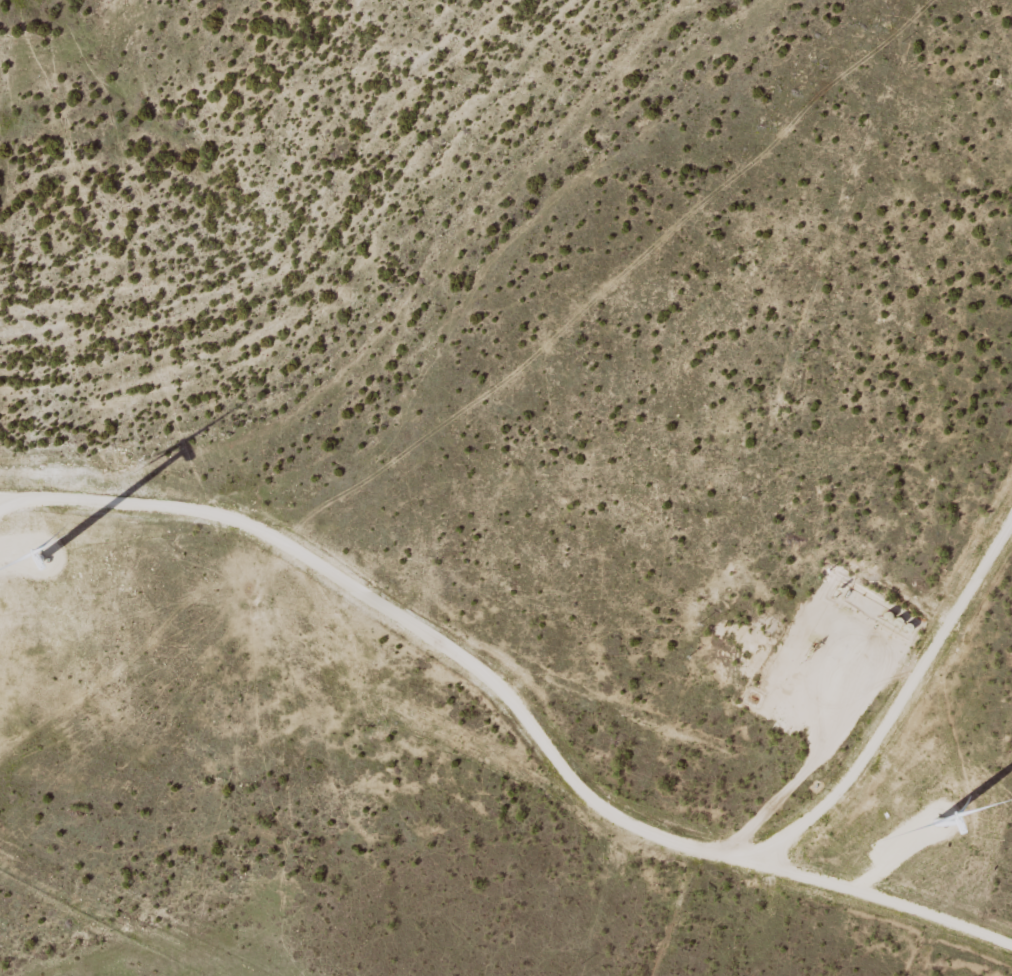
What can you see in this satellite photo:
wind turbine: (41, 558)
wind turbine: (938, 822)

